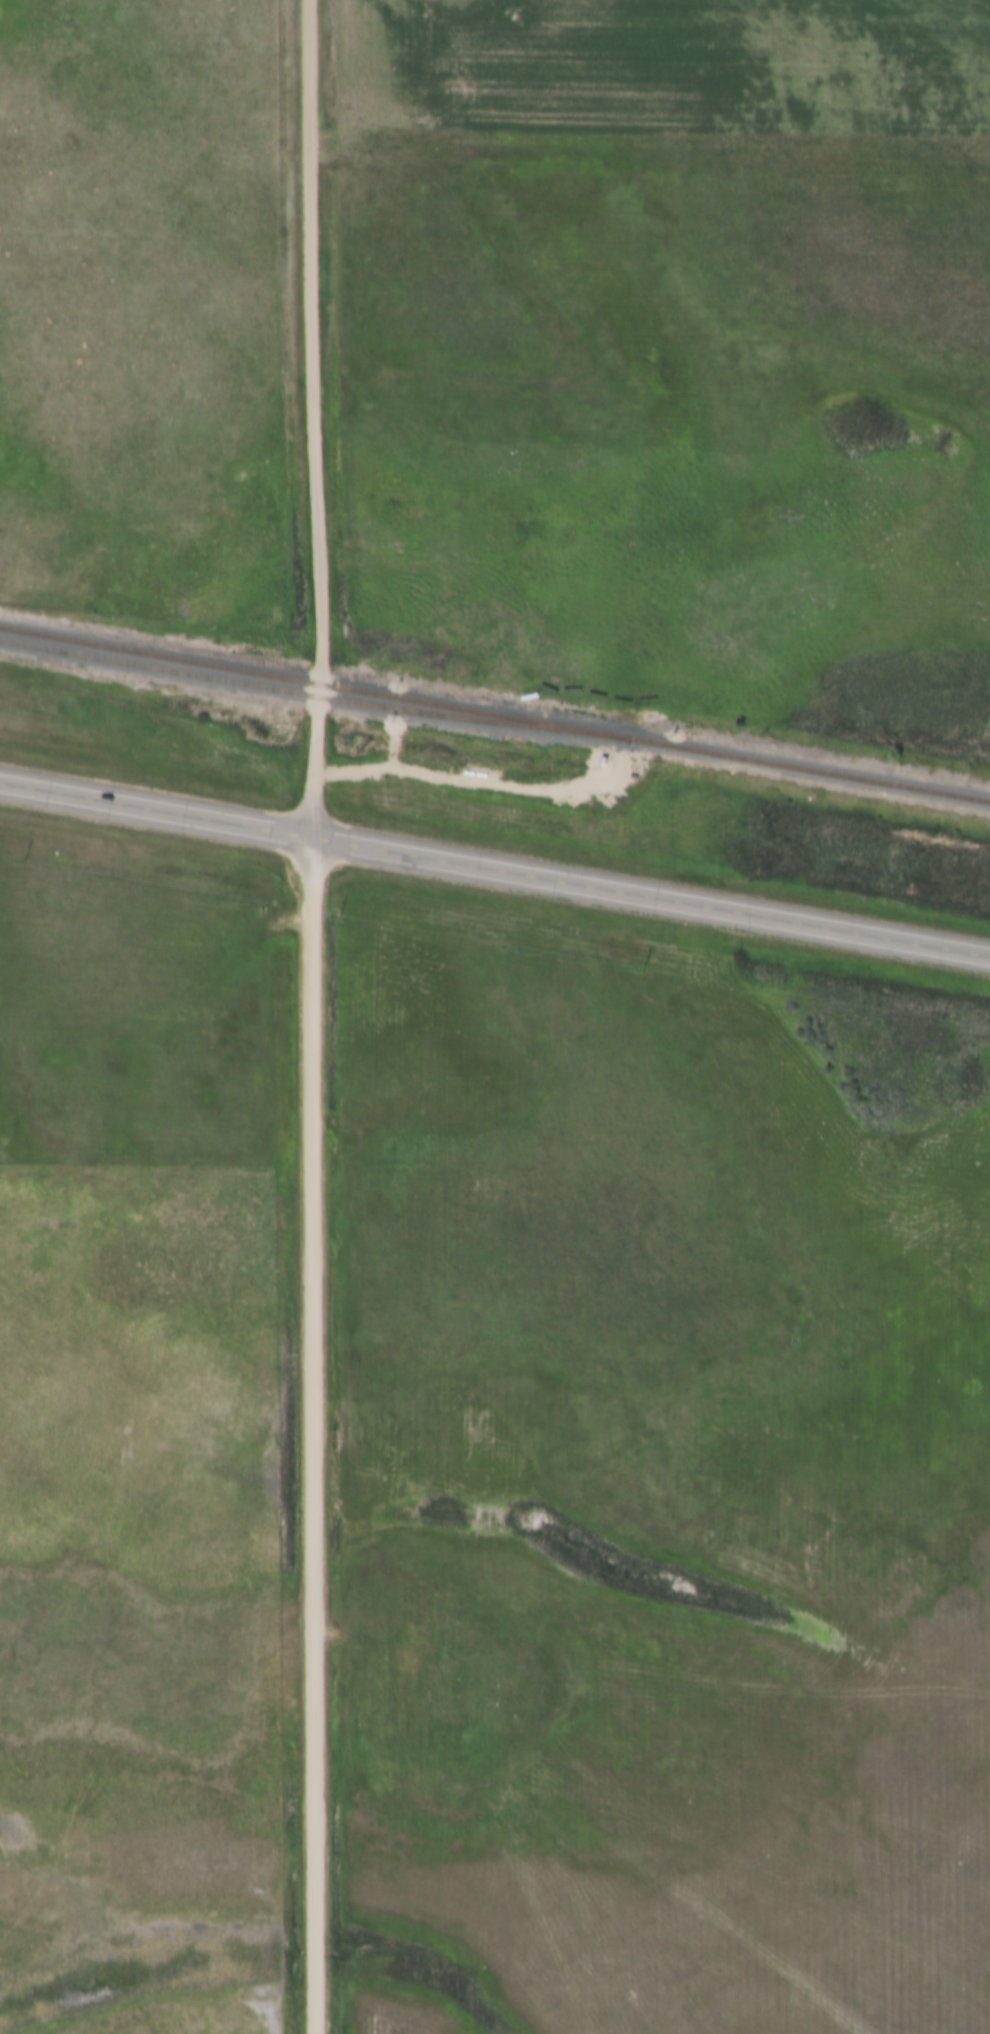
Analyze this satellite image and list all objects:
railway: (312, 696)
railway: (495, 714)
road: (494, 868)
road: (311, 1016)

